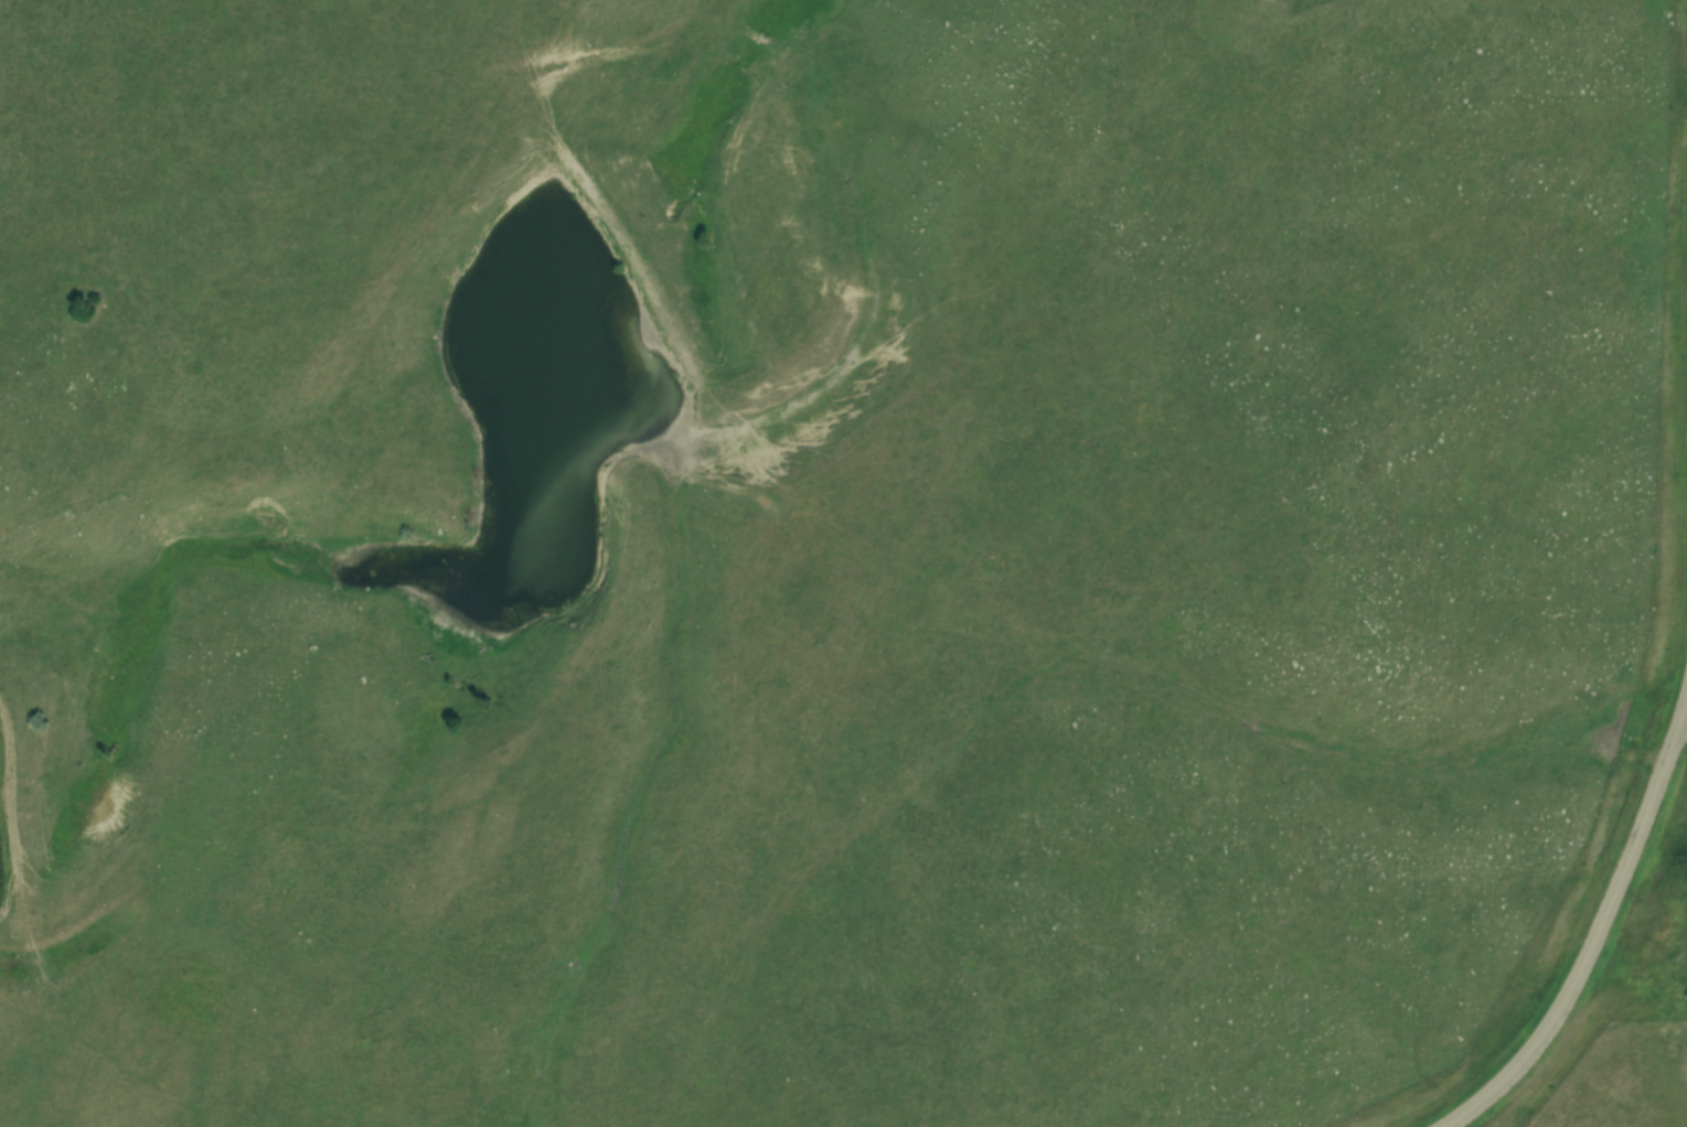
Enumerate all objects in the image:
road: (1598, 920)

